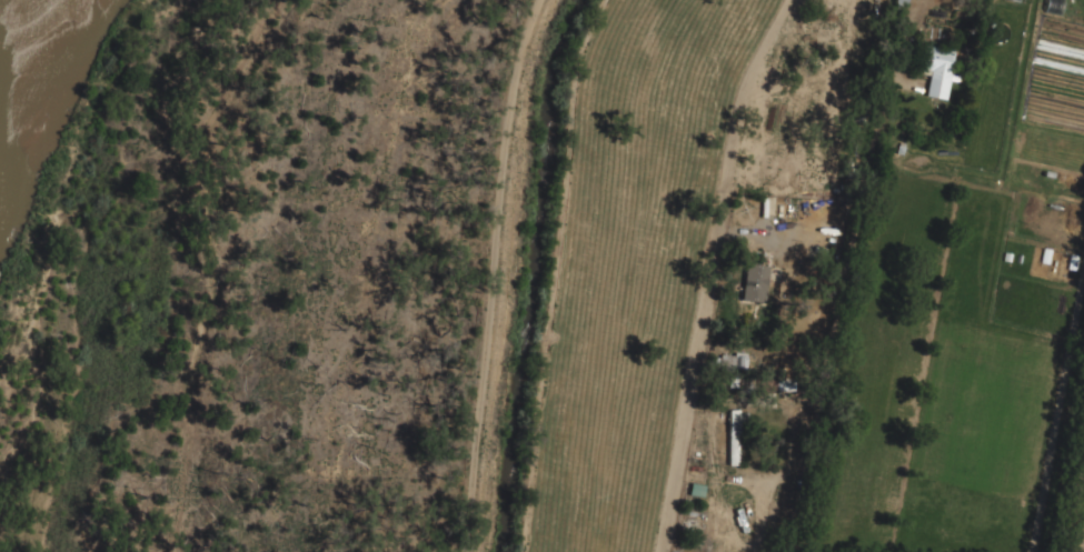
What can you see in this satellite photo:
river: (13, 30)
building: (935, 69)
road: (487, 273)
building: (755, 283)
building: (735, 369)
road: (693, 381)
road: (1056, 412)
building: (736, 436)
building: (697, 489)
crop: (1078, 531)

